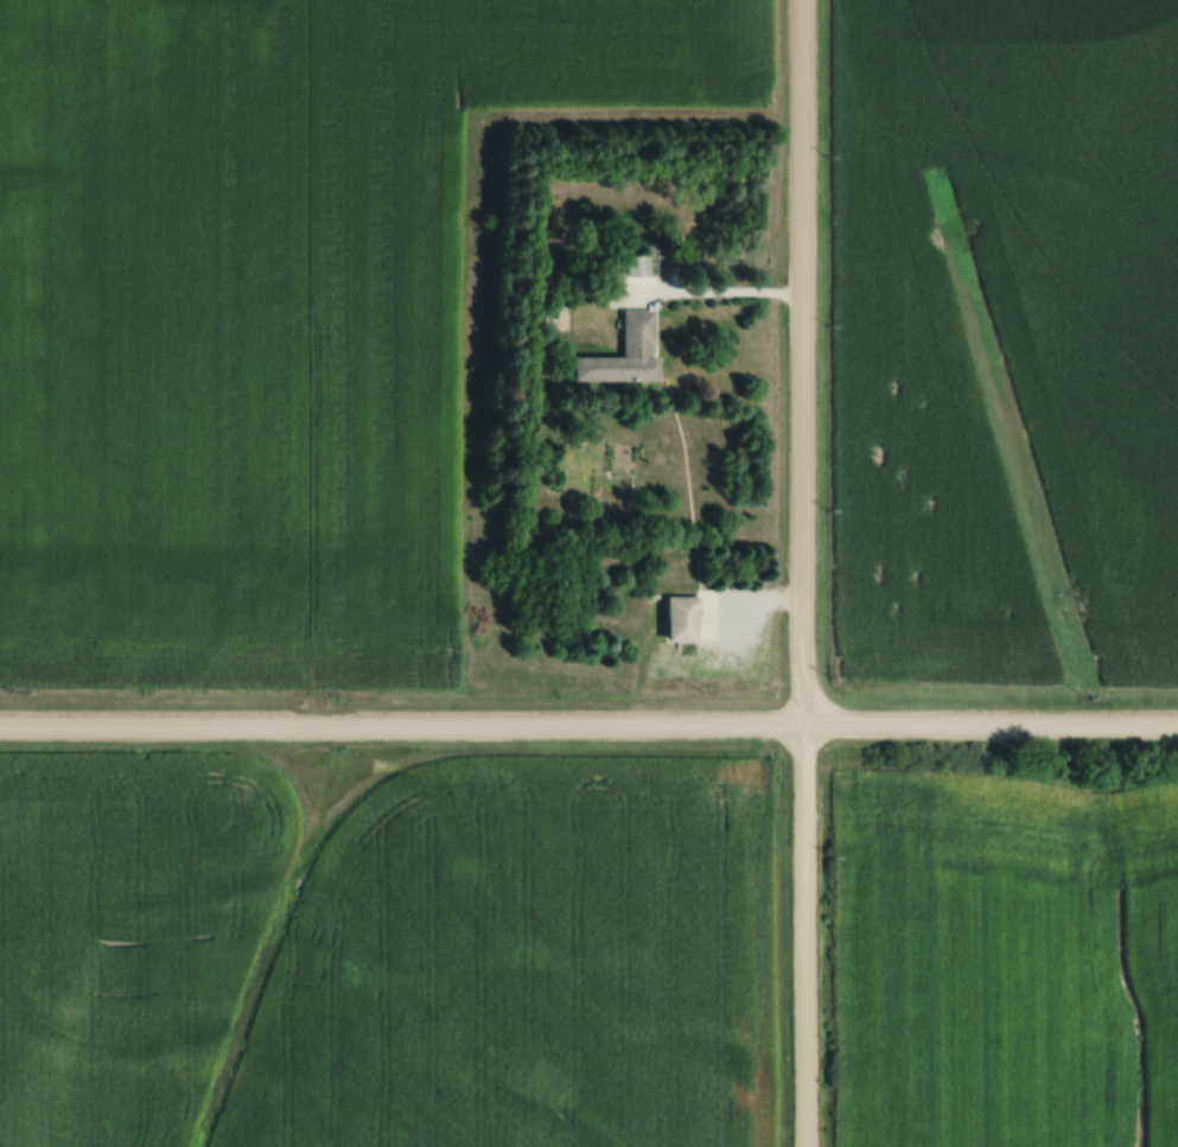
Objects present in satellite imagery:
building: (632, 267)
road: (722, 297)
building: (620, 355)
road: (802, 573)
building: (677, 619)
road: (401, 731)
road: (989, 731)
crop: (1005, 961)

